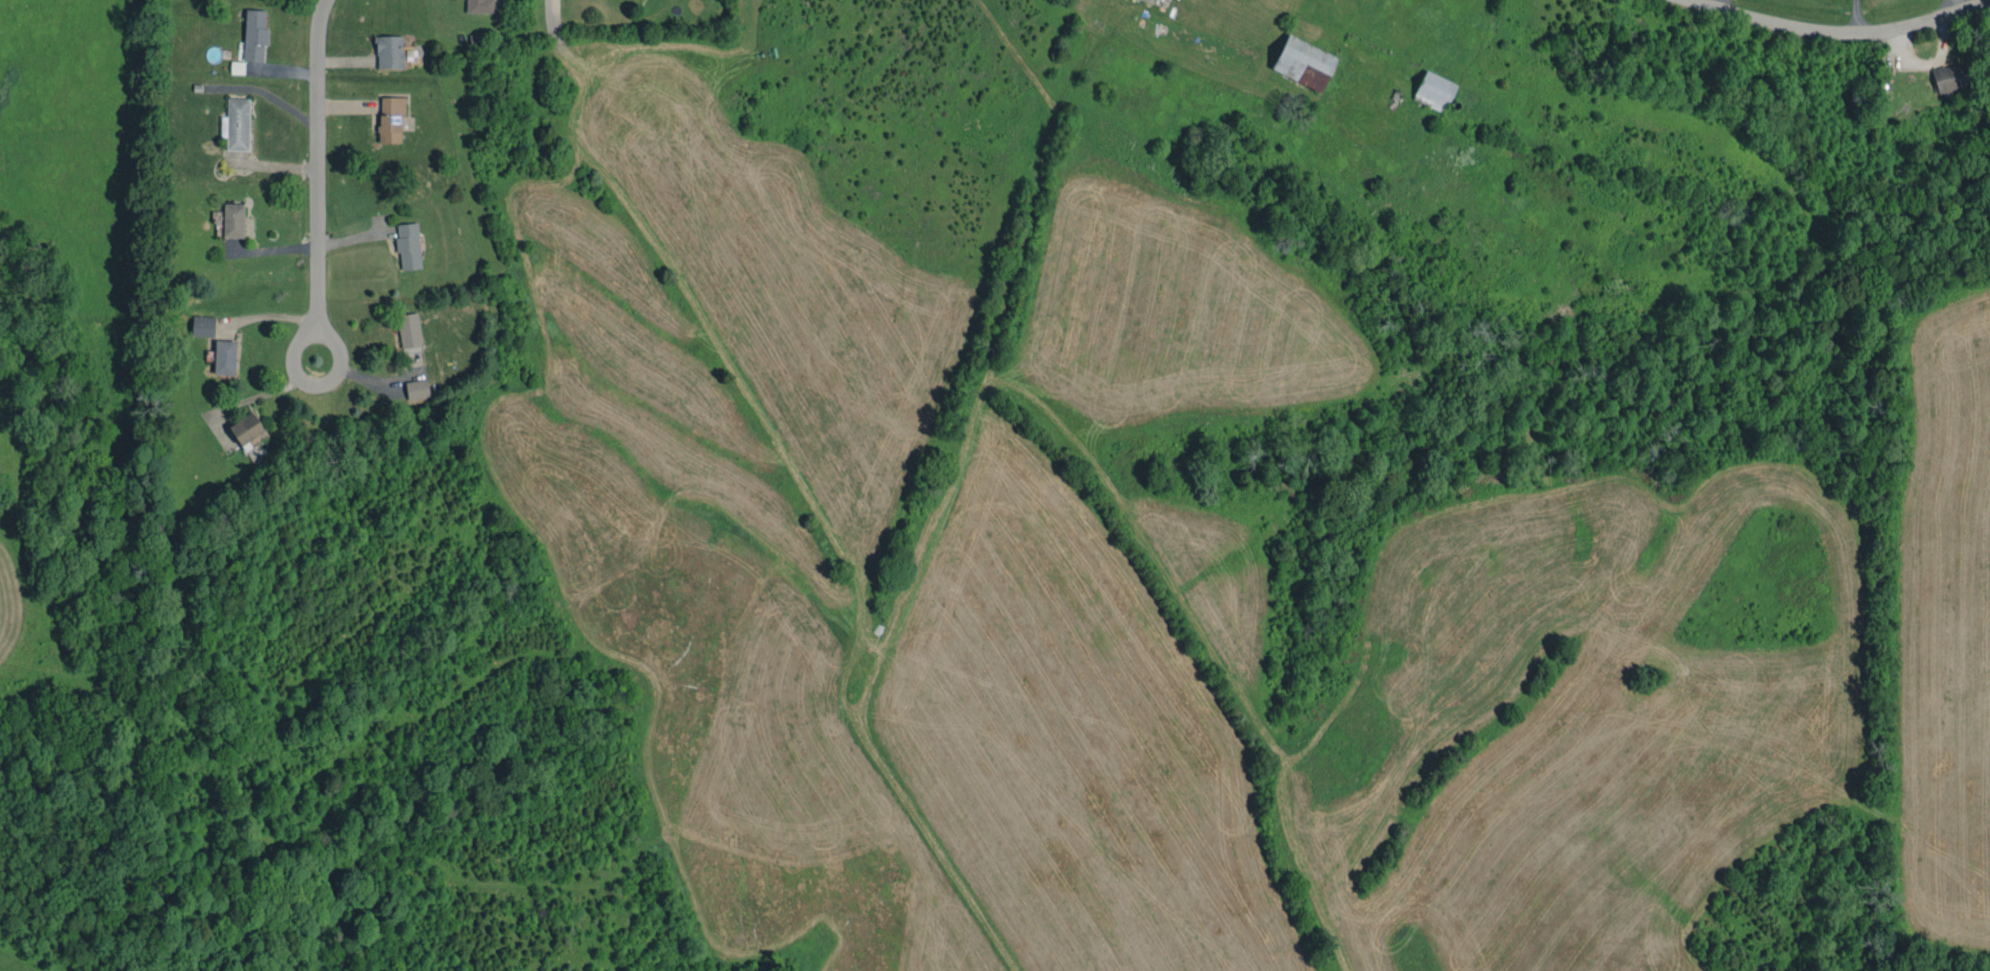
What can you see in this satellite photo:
road: (1721, 3)
building: (479, 6)
road: (1945, 7)
road: (554, 13)
road: (1853, 15)
road: (1841, 31)
building: (254, 35)
building: (389, 52)
building: (1303, 63)
building: (237, 67)
building: (1948, 77)
building: (1434, 90)
building: (391, 118)
building: (236, 124)
road: (318, 161)
building: (233, 220)
building: (408, 246)
building: (202, 326)
building: (409, 330)
building: (224, 357)
road: (308, 381)
building: (417, 389)
building: (246, 428)

